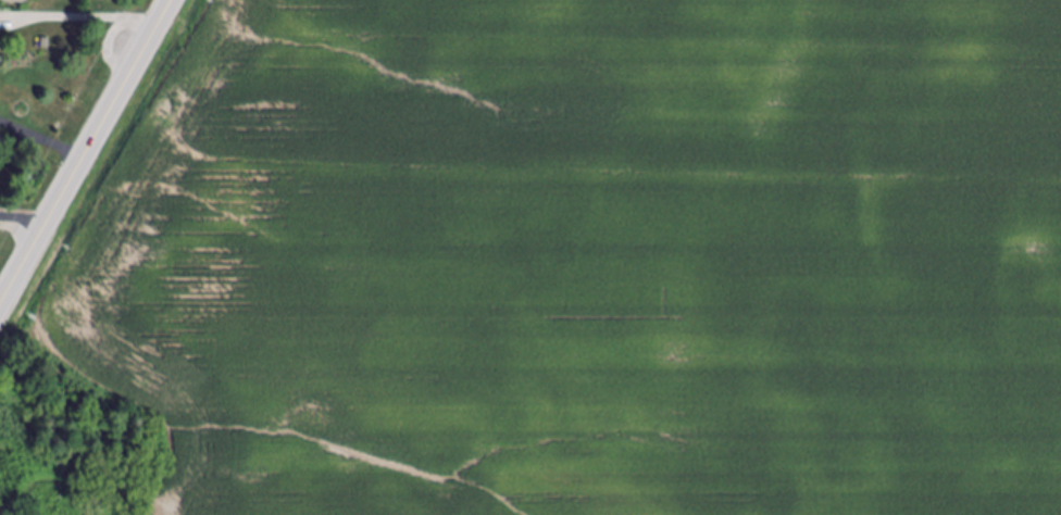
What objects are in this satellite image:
building: (16, 2)
road: (93, 20)
building: (46, 45)
road: (17, 128)
road: (17, 138)
road: (59, 149)
road: (86, 152)
road: (23, 222)
crop: (558, 266)

